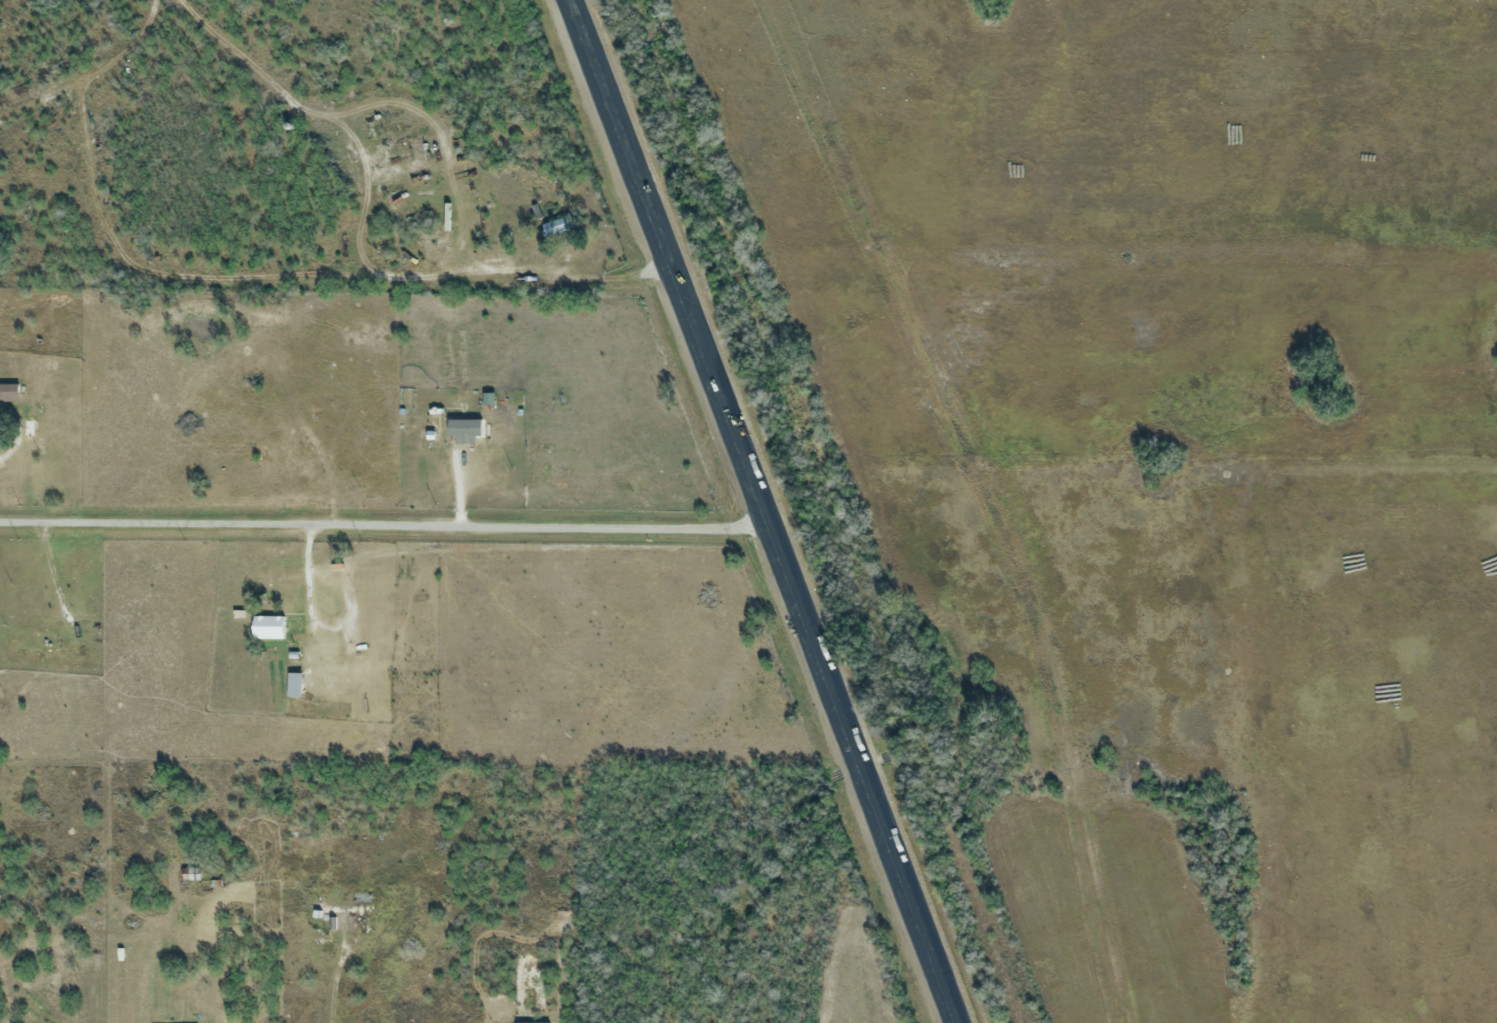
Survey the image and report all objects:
building: (557, 225)
building: (9, 392)
building: (455, 425)
road: (766, 511)
road: (386, 523)
building: (276, 623)
building: (295, 684)

